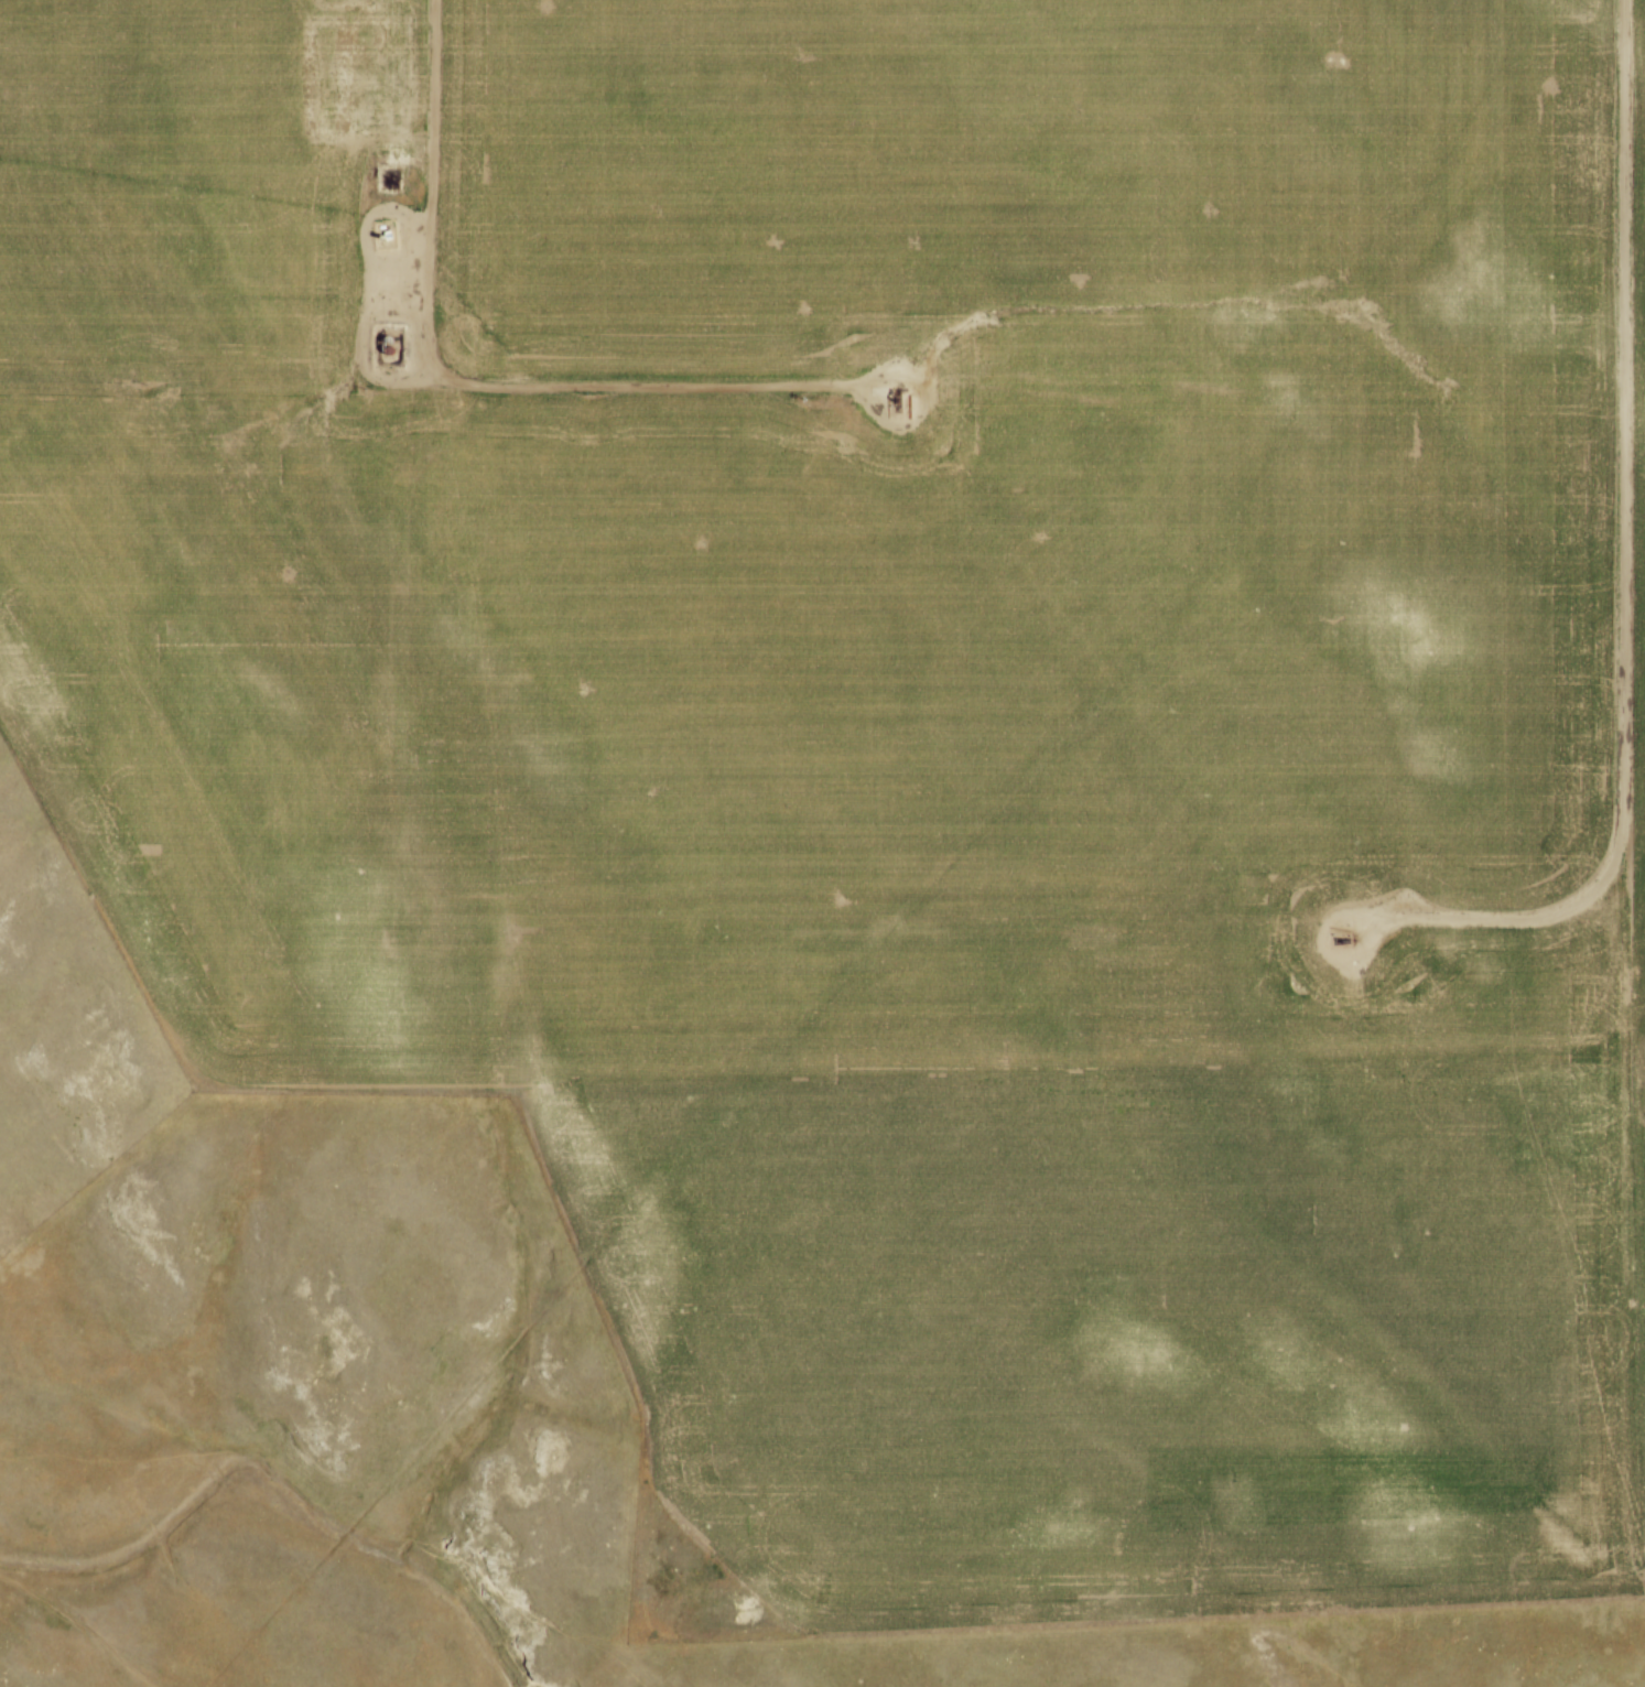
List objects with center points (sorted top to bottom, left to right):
road: (371, 282)
road: (456, 379)
petroleum well: (900, 398)
road: (924, 400)
road: (1621, 544)
crop: (907, 718)
petroleum well: (1352, 936)
road: (1325, 941)

